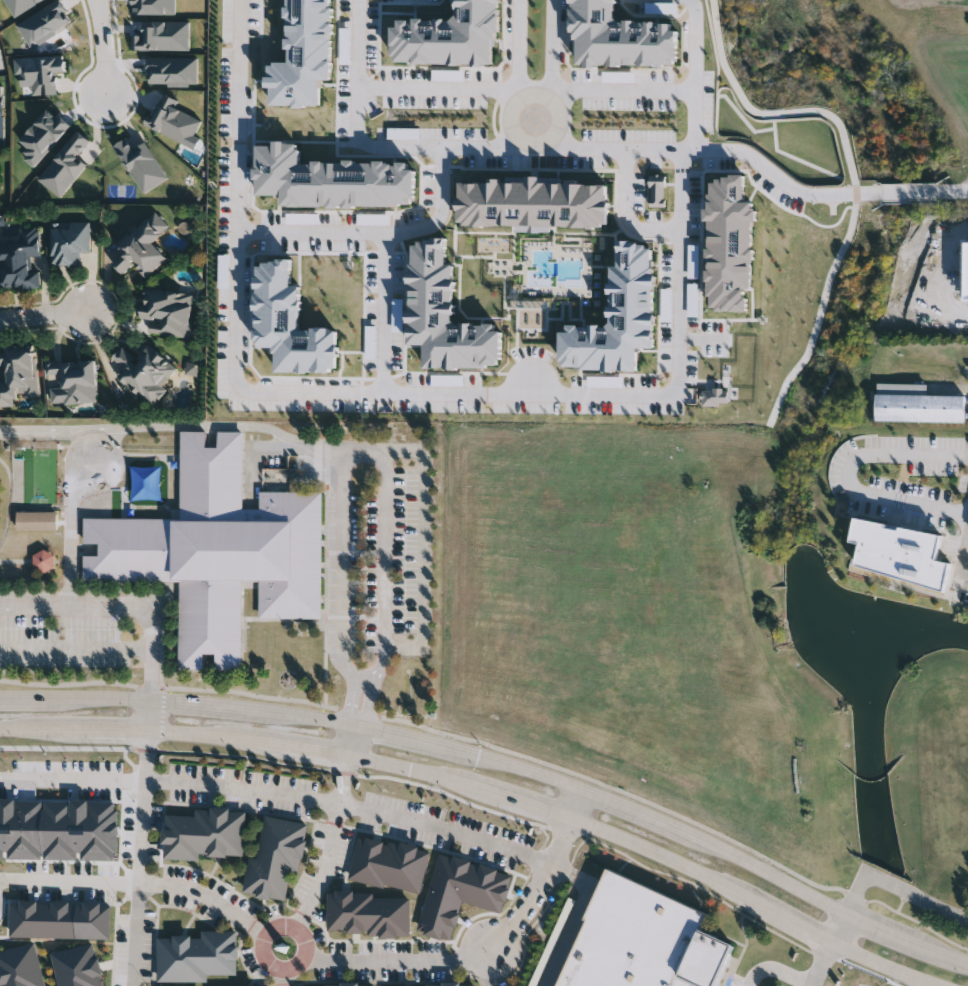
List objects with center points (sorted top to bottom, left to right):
road: (100, 11)
road: (102, 12)
road: (553, 42)
road: (521, 43)
road: (693, 44)
road: (106, 59)
road: (395, 87)
road: (536, 117)
road: (536, 133)
road: (499, 147)
road: (737, 150)
road: (623, 213)
road: (373, 232)
building: (70, 243)
building: (143, 246)
building: (22, 260)
road: (946, 273)
building: (168, 311)
road: (383, 314)
road: (40, 315)
building: (619, 319)
building: (291, 325)
building: (144, 370)
building: (18, 374)
building: (73, 380)
road: (385, 395)
building: (916, 402)
road: (214, 426)
road: (364, 449)
road: (68, 473)
road: (851, 476)
road: (7, 501)
park: (32, 501)
building: (35, 508)
building: (37, 520)
road: (424, 549)
building: (218, 550)
building: (44, 560)
road: (965, 561)
road: (118, 607)
road: (364, 678)
road: (75, 683)
road: (25, 700)
road: (351, 701)
road: (100, 702)
road: (368, 703)
road: (204, 705)
road: (303, 716)
road: (149, 717)
road: (355, 726)
road: (74, 731)
road: (403, 738)
road: (347, 741)
road: (355, 743)
road: (512, 770)
road: (71, 780)
parking lot: (240, 791)
road: (576, 804)
road: (349, 808)
road: (631, 812)
road: (554, 813)
building: (58, 828)
parking lot: (443, 831)
building: (205, 833)
parking lot: (153, 835)
road: (327, 845)
road: (139, 858)
building: (276, 859)
building: (389, 863)
parking lot: (320, 868)
road: (562, 871)
road: (764, 871)
road: (69, 882)
road: (896, 887)
parking lot: (209, 889)
building: (458, 891)
road: (204, 899)
road: (528, 904)
parking lot: (191, 908)
parking lot: (274, 910)
building: (367, 912)
building: (61, 919)
road: (877, 926)
road: (840, 928)
road: (558, 931)
parking lot: (316, 936)
building: (643, 940)
road: (921, 946)
parking lot: (146, 949)
parking lot: (385, 949)
building: (197, 956)
road: (951, 958)
road: (399, 961)
road: (822, 964)
road: (270, 965)
building: (20, 966)
building: (79, 966)
parking lot: (251, 966)
road: (777, 969)
parking lot: (382, 974)
road: (282, 978)
building: (348, 984)
building: (451, 984)
building: (248, 985)
building: (418, 985)

